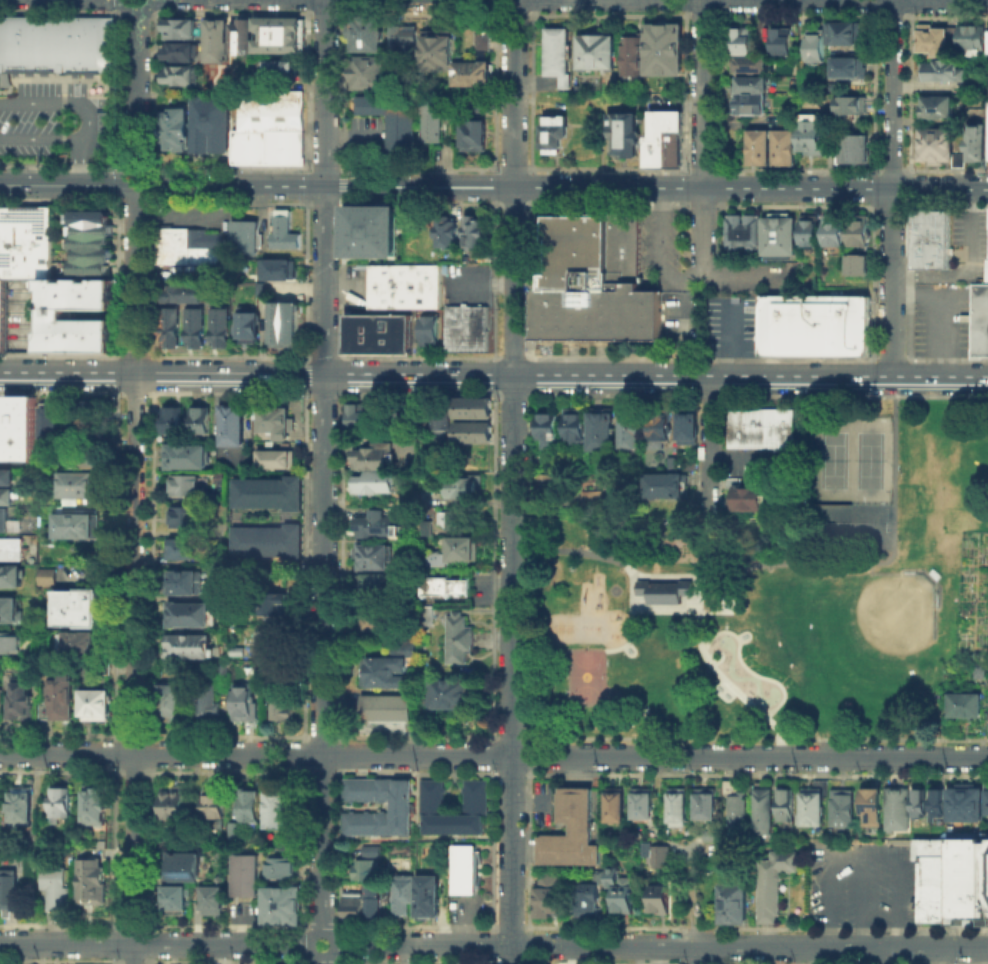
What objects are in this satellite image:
building: (177, 27)
building: (275, 33)
building: (366, 33)
building: (847, 35)
building: (970, 35)
building: (240, 36)
building: (403, 36)
building: (215, 39)
building: (481, 40)
building: (56, 41)
building: (740, 42)
building: (934, 42)
building: (783, 43)
building: (437, 48)
building: (816, 49)
building: (177, 50)
building: (665, 50)
building: (558, 53)
building: (598, 54)
building: (635, 58)
building: (751, 66)
building: (278, 69)
building: (850, 69)
building: (368, 70)
building: (472, 72)
building: (178, 73)
building: (944, 73)
road: (705, 94)
building: (752, 98)
building: (853, 108)
building: (939, 109)
building: (392, 117)
road: (89, 121)
parking lot: (54, 122)
building: (210, 122)
building: (431, 122)
building: (174, 128)
building: (269, 128)
building: (472, 134)
building: (626, 134)
building: (809, 134)
building: (558, 135)
building: (667, 140)
building: (783, 145)
building: (978, 145)
building: (758, 146)
building: (937, 146)
building: (856, 151)
road: (494, 186)
road: (892, 188)
building: (286, 232)
road: (660, 232)
road: (705, 232)
building: (373, 233)
building: (477, 233)
building: (811, 233)
building: (449, 234)
building: (743, 234)
building: (860, 236)
building: (835, 237)
building: (26, 238)
building: (246, 239)
building: (781, 240)
building: (933, 241)
building: (92, 242)
building: (175, 242)
building: (857, 263)
building: (285, 270)
road: (683, 276)
road: (745, 276)
building: (589, 287)
building: (408, 288)
building: (262, 291)
building: (180, 292)
road: (939, 311)
building: (55, 314)
building: (2, 315)
parking lot: (942, 321)
building: (980, 321)
building: (170, 325)
building: (194, 325)
building: (286, 325)
road: (684, 325)
building: (218, 326)
building: (818, 326)
building: (248, 327)
building: (469, 329)
building: (432, 332)
building: (381, 336)
road: (729, 341)
road: (161, 373)
road: (656, 374)
street lamp: (976, 398)
street lamp: (898, 405)
building: (472, 407)
building: (93, 411)
building: (272, 418)
building: (405, 420)
building: (202, 421)
building: (365, 421)
building: (174, 422)
building: (231, 424)
building: (52, 425)
building: (441, 425)
building: (760, 426)
building: (663, 427)
building: (574, 428)
building: (692, 428)
building: (19, 430)
building: (472, 430)
building: (603, 431)
building: (632, 431)
building: (86, 432)
building: (550, 433)
road: (711, 453)
building: (374, 455)
building: (272, 457)
building: (90, 458)
building: (189, 458)
park: (832, 459)
park: (868, 459)
road: (323, 466)
building: (691, 468)
street lamp: (898, 472)
building: (5, 478)
road: (512, 481)
road: (134, 482)
building: (376, 484)
building: (78, 486)
building: (549, 486)
building: (186, 487)
building: (466, 487)
building: (669, 487)
building: (267, 491)
building: (591, 494)
building: (747, 496)
building: (7, 497)
building: (428, 500)
building: (184, 518)
building: (450, 519)
building: (5, 520)
park: (849, 526)
building: (76, 527)
building: (427, 531)
building: (267, 540)
building: (373, 540)
street lamp: (897, 540)
street lamp: (581, 545)
building: (10, 549)
building: (182, 549)
building: (454, 557)
road: (886, 559)
street lamp: (619, 568)
road: (628, 569)
street lamp: (768, 569)
building: (11, 577)
road: (723, 577)
building: (51, 579)
building: (185, 584)
building: (376, 585)
building: (448, 588)
park: (613, 589)
building: (663, 590)
road: (697, 591)
park: (772, 592)
building: (724, 594)
road: (730, 600)
building: (269, 603)
street lamp: (704, 606)
street lamp: (621, 607)
building: (79, 609)
building: (11, 612)
building: (426, 615)
building: (192, 616)
road: (629, 621)
building: (380, 622)
building: (273, 639)
building: (460, 640)
park: (851, 642)
building: (11, 643)
road: (621, 643)
building: (404, 644)
building: (80, 645)
building: (192, 648)
building: (976, 655)
road: (709, 664)
building: (220, 668)
road: (745, 668)
building: (977, 669)
water park: (741, 671)
building: (279, 672)
building: (387, 672)
park: (584, 675)
building: (0, 689)
building: (60, 696)
building: (450, 696)
building: (244, 700)
building: (22, 702)
building: (171, 702)
building: (210, 702)
building: (278, 702)
building: (963, 704)
building: (96, 707)
building: (387, 711)
building: (963, 718)
road: (493, 755)
building: (478, 799)
building: (986, 799)
building: (172, 801)
building: (211, 801)
building: (252, 801)
building: (645, 803)
building: (783, 803)
building: (61, 804)
building: (967, 804)
building: (708, 805)
building: (921, 805)
building: (939, 805)
building: (810, 806)
building: (23, 807)
building: (98, 807)
building: (617, 807)
building: (763, 807)
building: (876, 807)
building: (278, 809)
building: (401, 809)
building: (680, 809)
building: (845, 809)
building: (899, 811)
building: (740, 812)
building: (573, 833)
building: (711, 833)
building: (372, 852)
road: (861, 852)
building: (659, 854)
building: (284, 868)
building: (186, 869)
building: (366, 870)
building: (466, 871)
park: (857, 871)
building: (610, 875)
building: (248, 877)
building: (953, 877)
building: (94, 883)
parking lot: (864, 883)
building: (775, 885)
building: (14, 888)
building: (58, 888)
building: (622, 893)
building: (551, 897)
building: (658, 897)
building: (403, 898)
building: (429, 898)
building: (586, 899)
road: (693, 899)
road: (861, 899)
building: (176, 903)
building: (215, 903)
building: (733, 903)
building: (362, 905)
building: (283, 907)
road: (326, 925)
road: (414, 925)
road: (508, 925)
road: (754, 927)
road: (322, 932)
road: (154, 943)
road: (659, 944)
road: (699, 954)
road: (887, 955)
road: (936, 955)
road: (984, 955)
road: (320, 959)
road: (327, 962)
road: (415, 962)
road: (509, 962)
road: (604, 963)
road: (698, 963)
road: (793, 963)
road: (882, 963)

